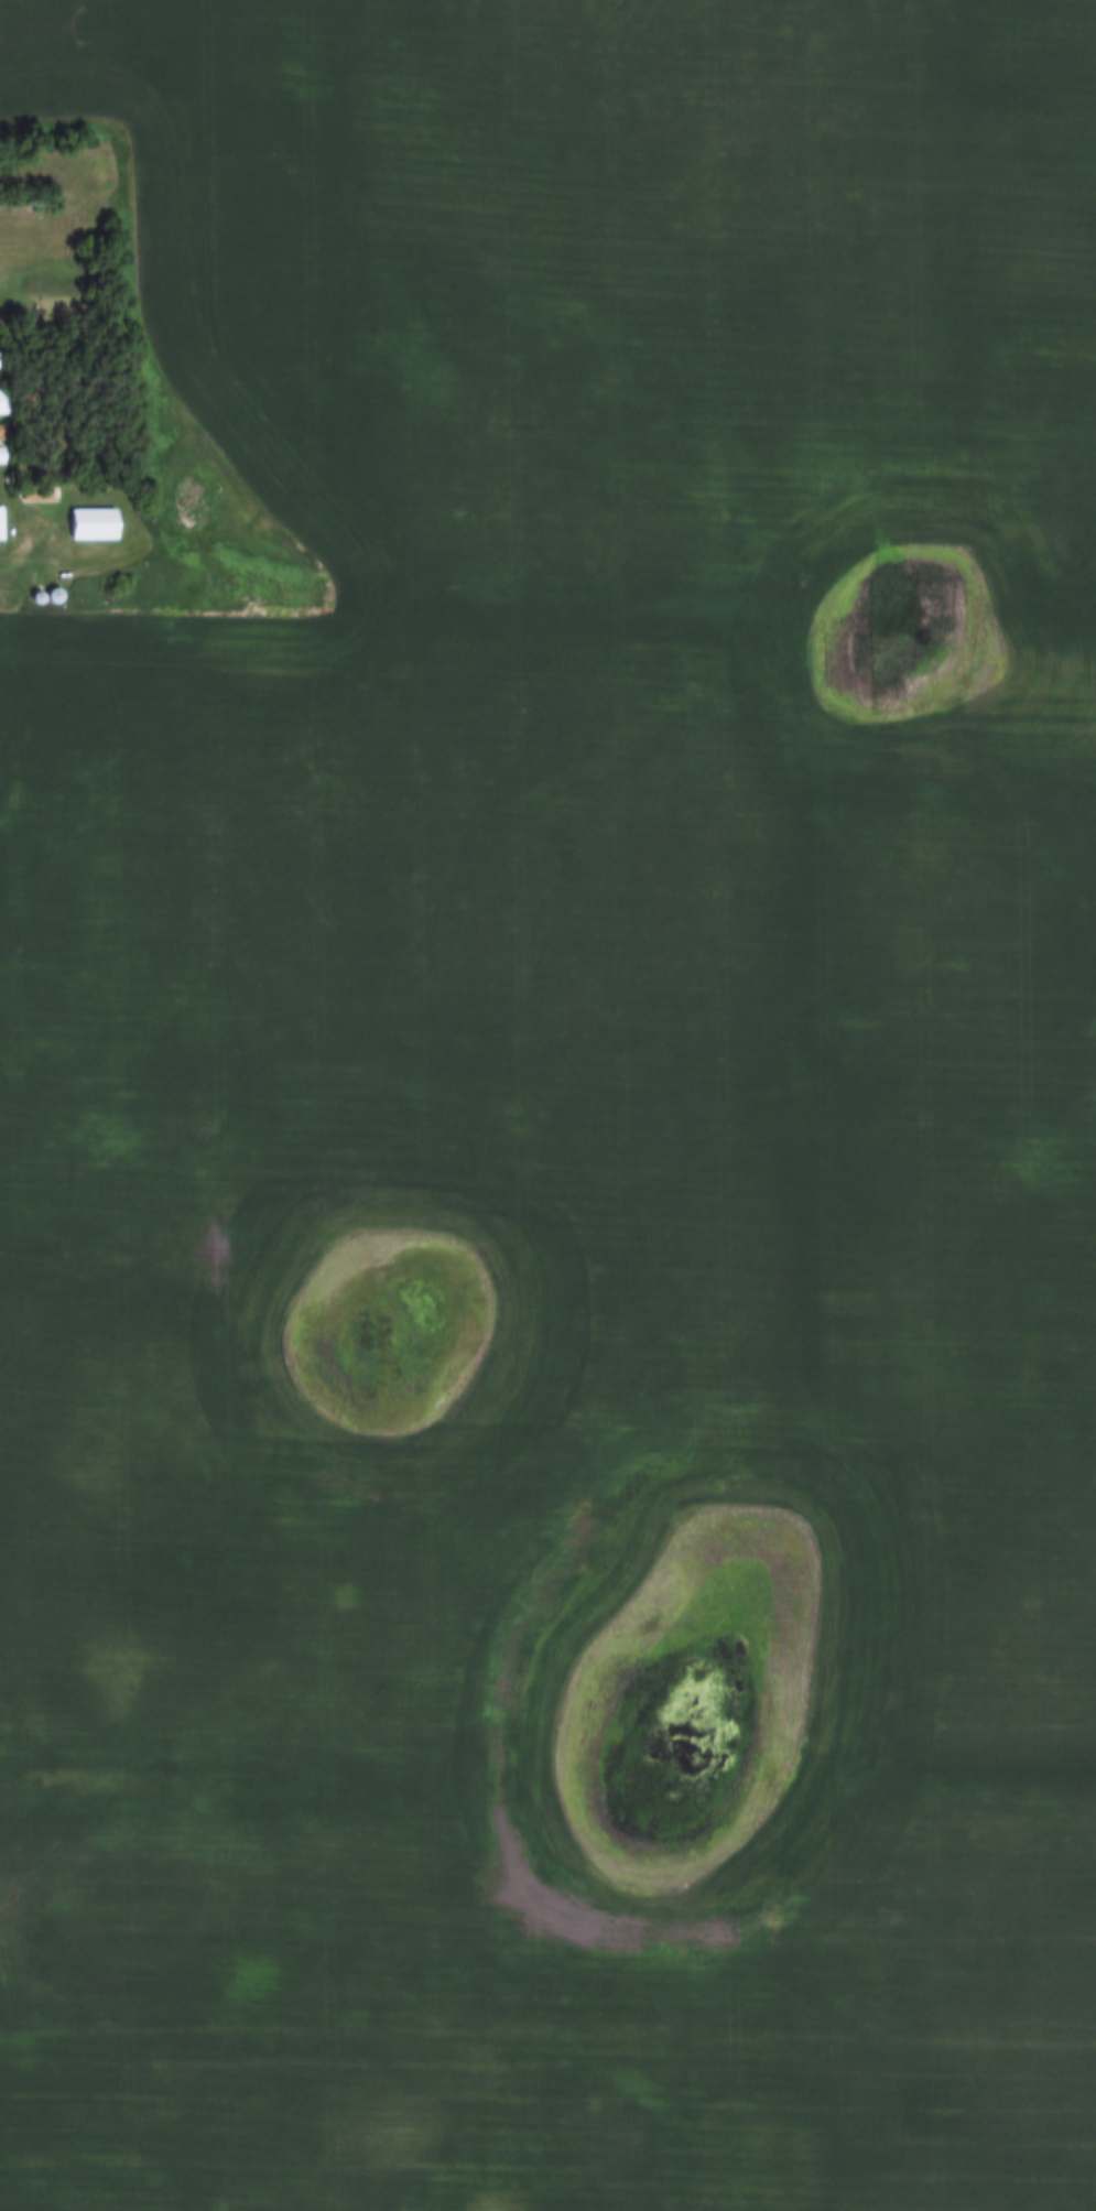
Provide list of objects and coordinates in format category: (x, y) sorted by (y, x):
building: (0, 403)
building: (32, 492)
building: (88, 523)
road: (32, 546)

